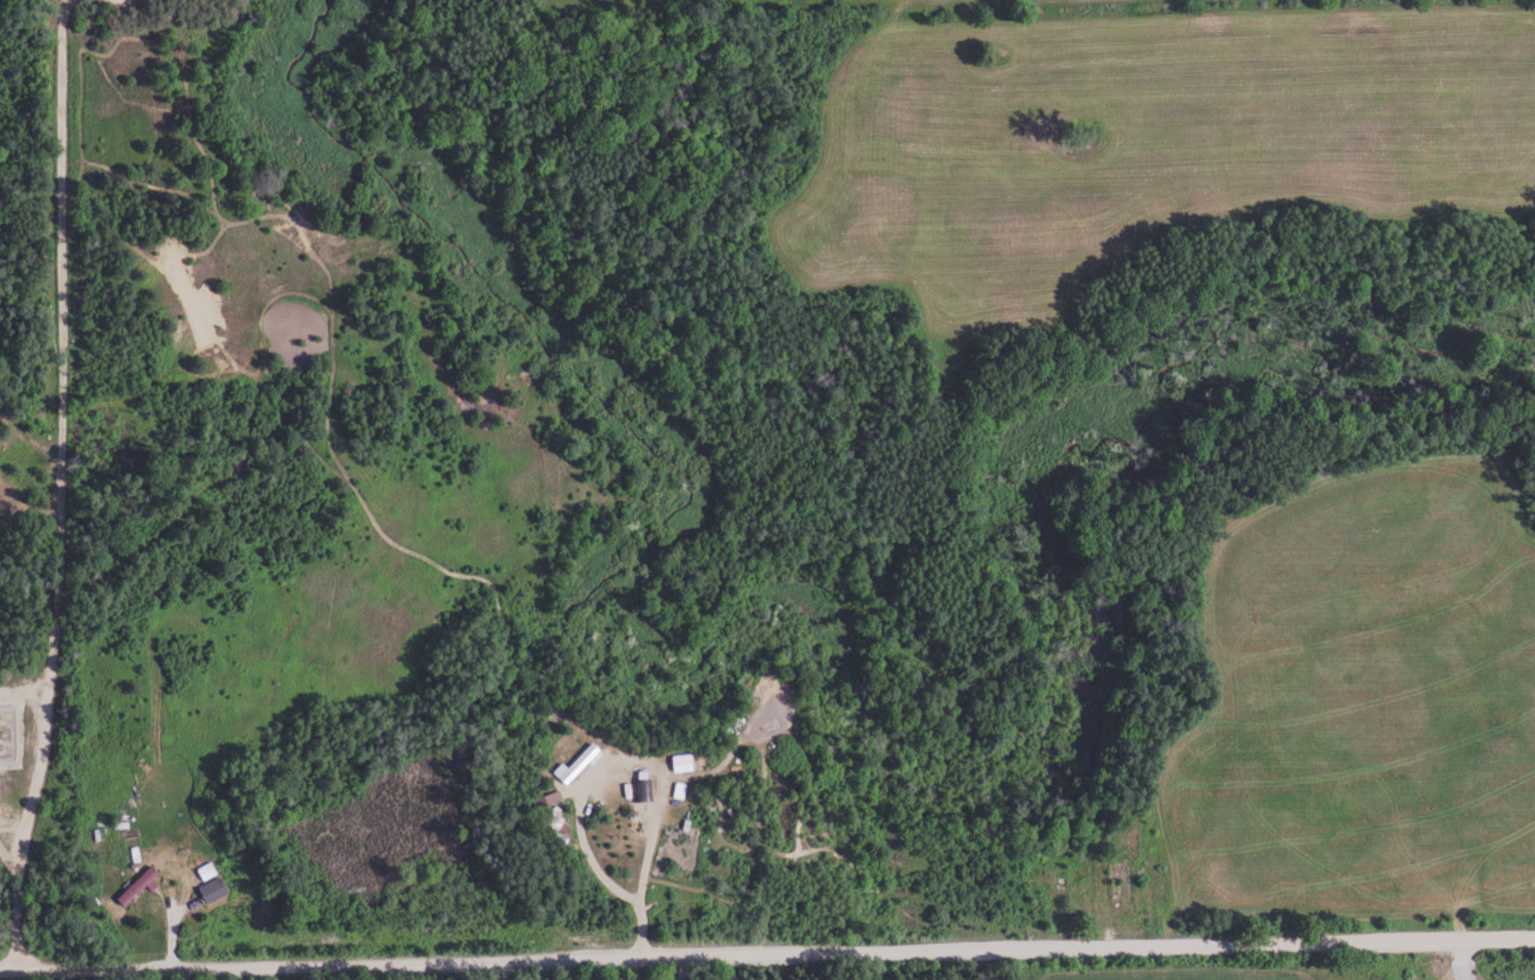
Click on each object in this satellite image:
road: (66, 484)
building: (582, 765)
road: (15, 858)
building: (1123, 882)
building: (145, 887)
building: (214, 890)
road: (767, 953)

